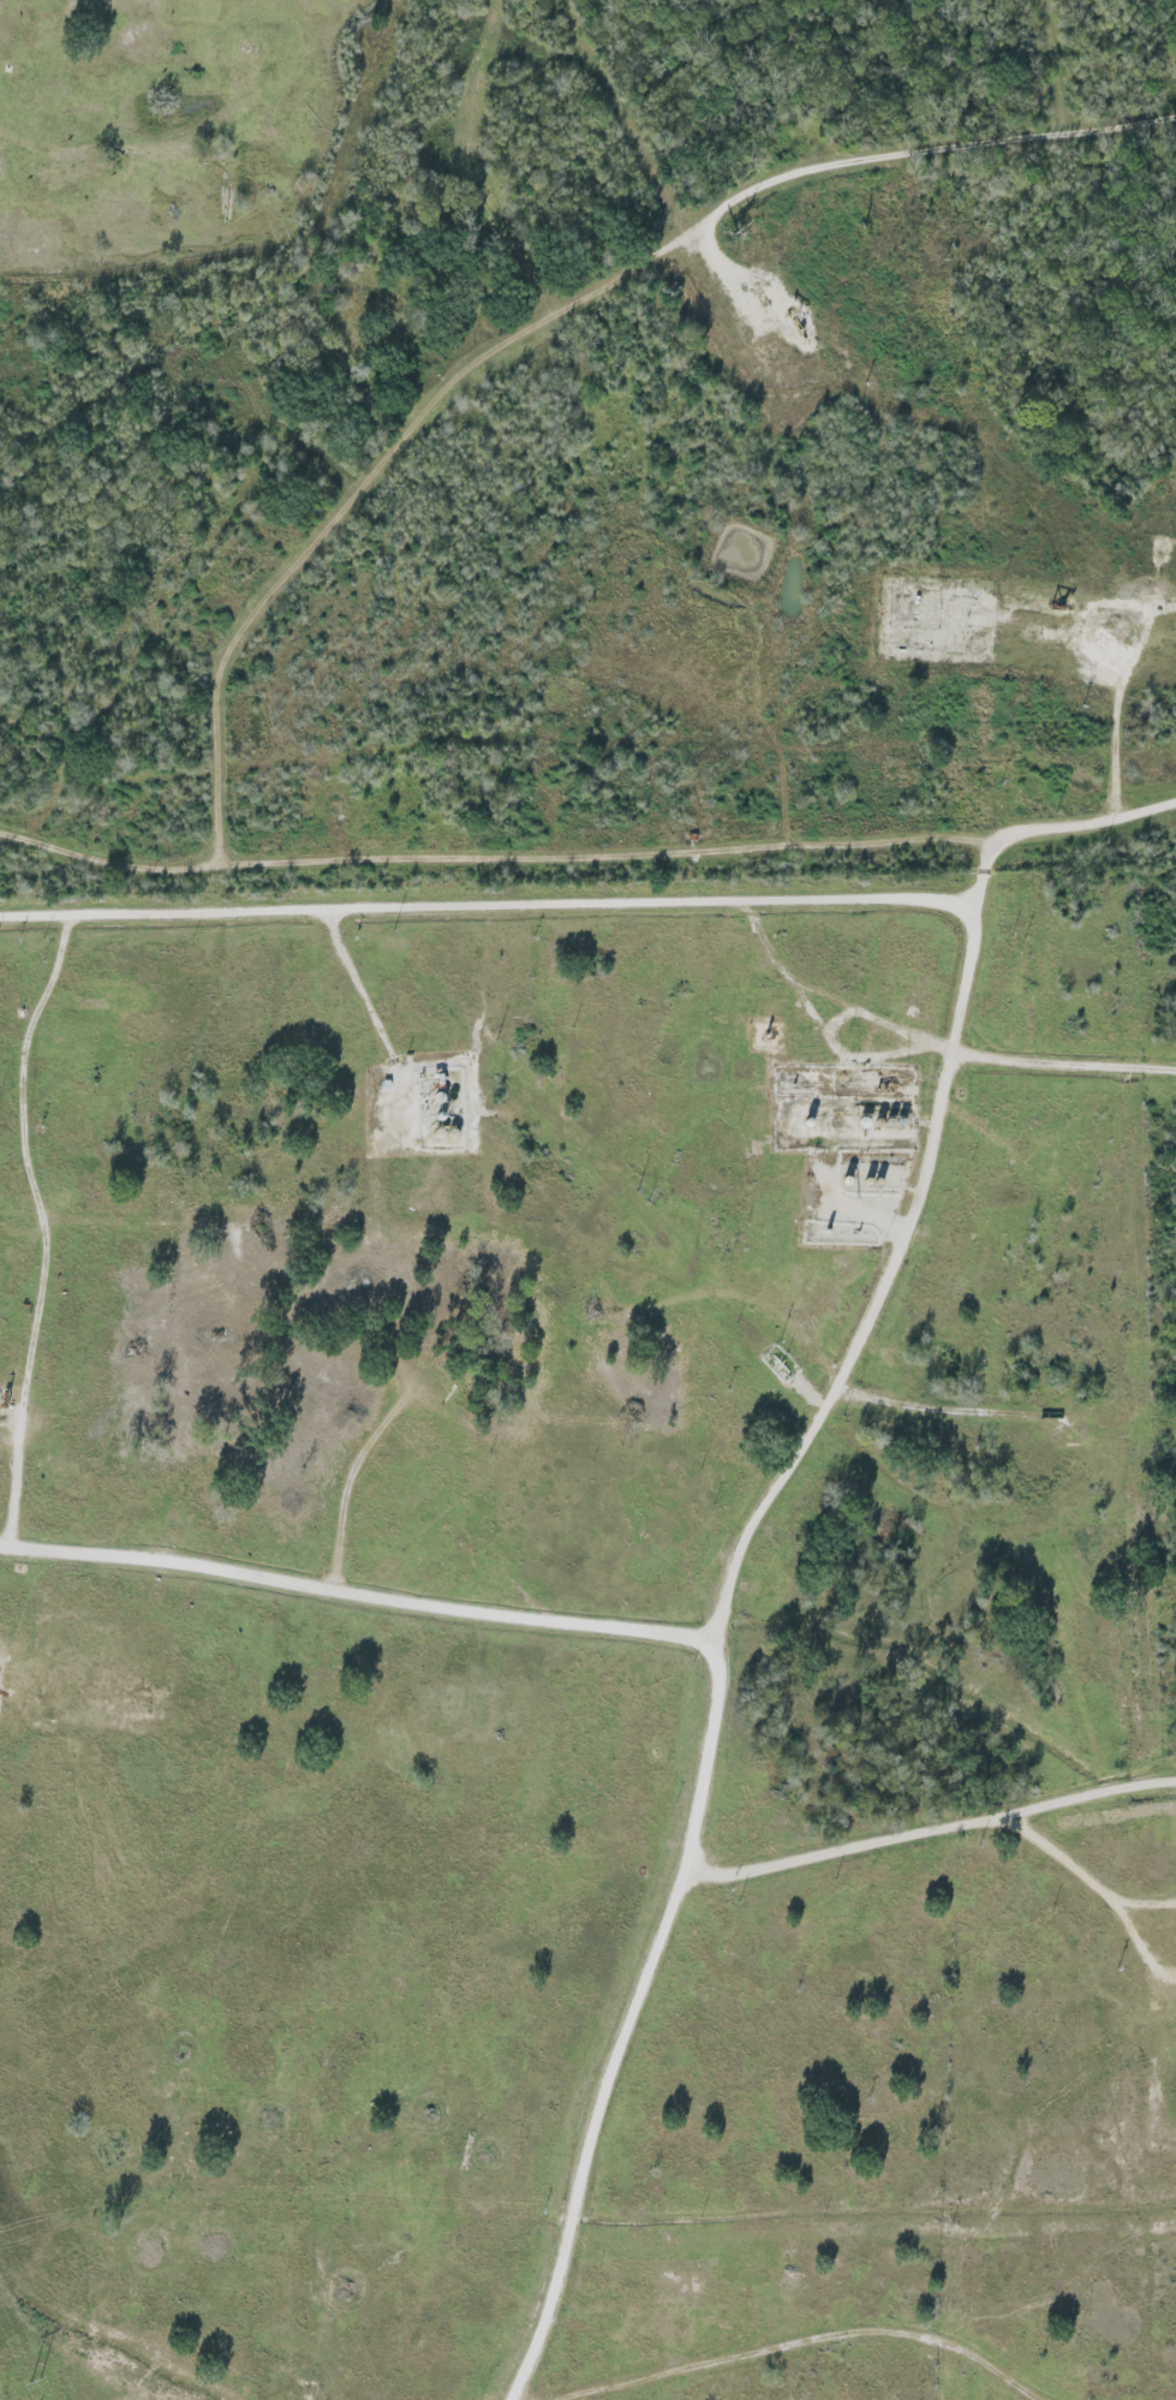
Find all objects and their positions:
road: (219, 675)
road: (107, 866)
road: (489, 909)
road: (365, 994)
road: (1065, 1066)
road: (48, 1229)
road: (357, 1595)
road: (718, 1613)
road: (931, 1832)
road: (810, 2344)
power tower: (31, 2381)

